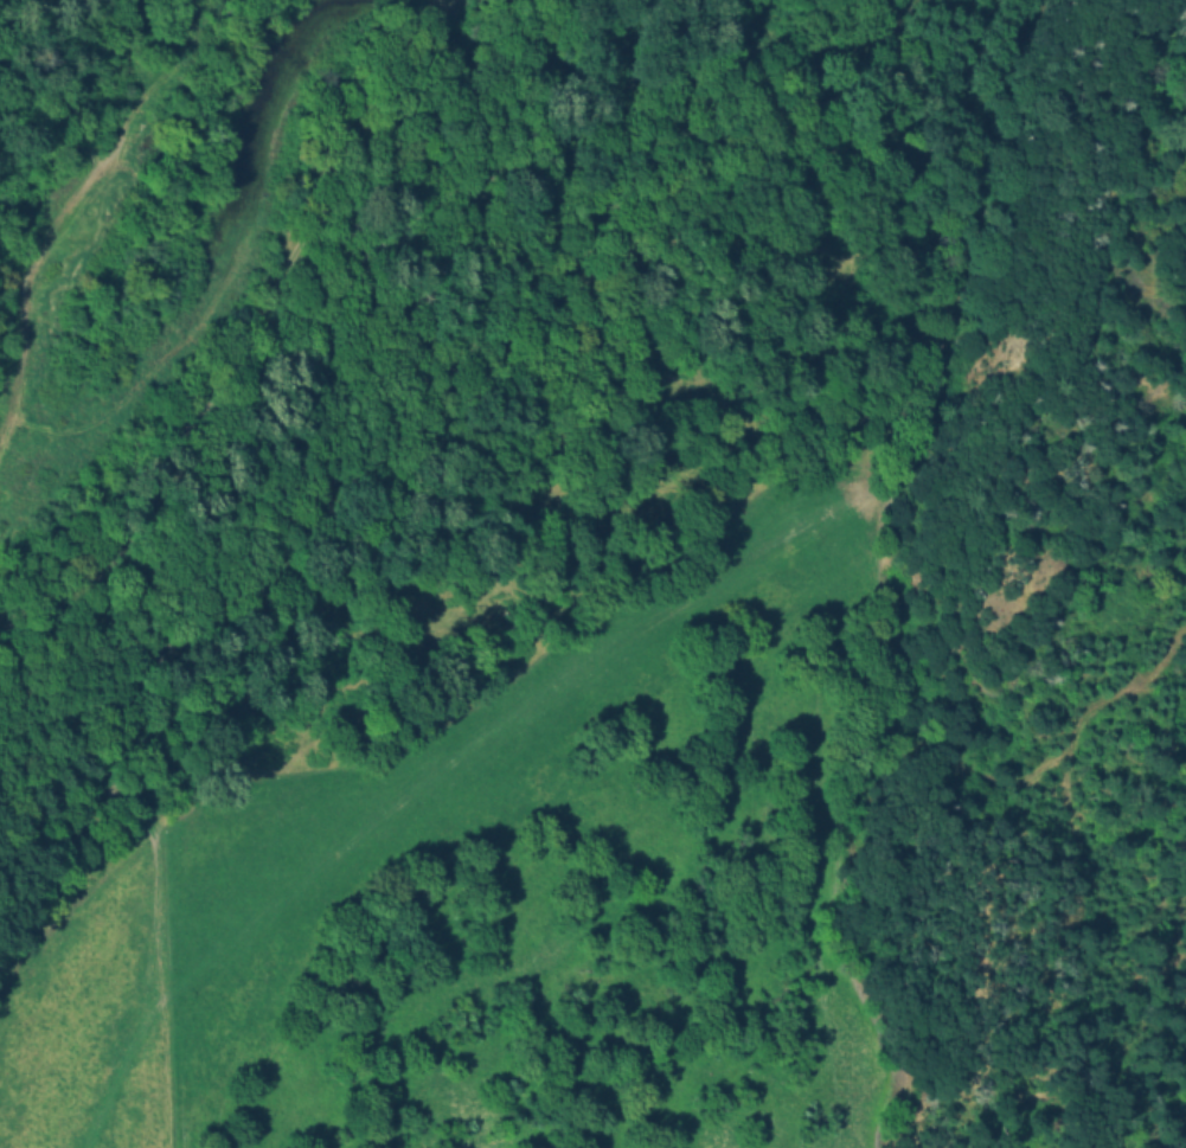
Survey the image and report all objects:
road: (979, 236)

